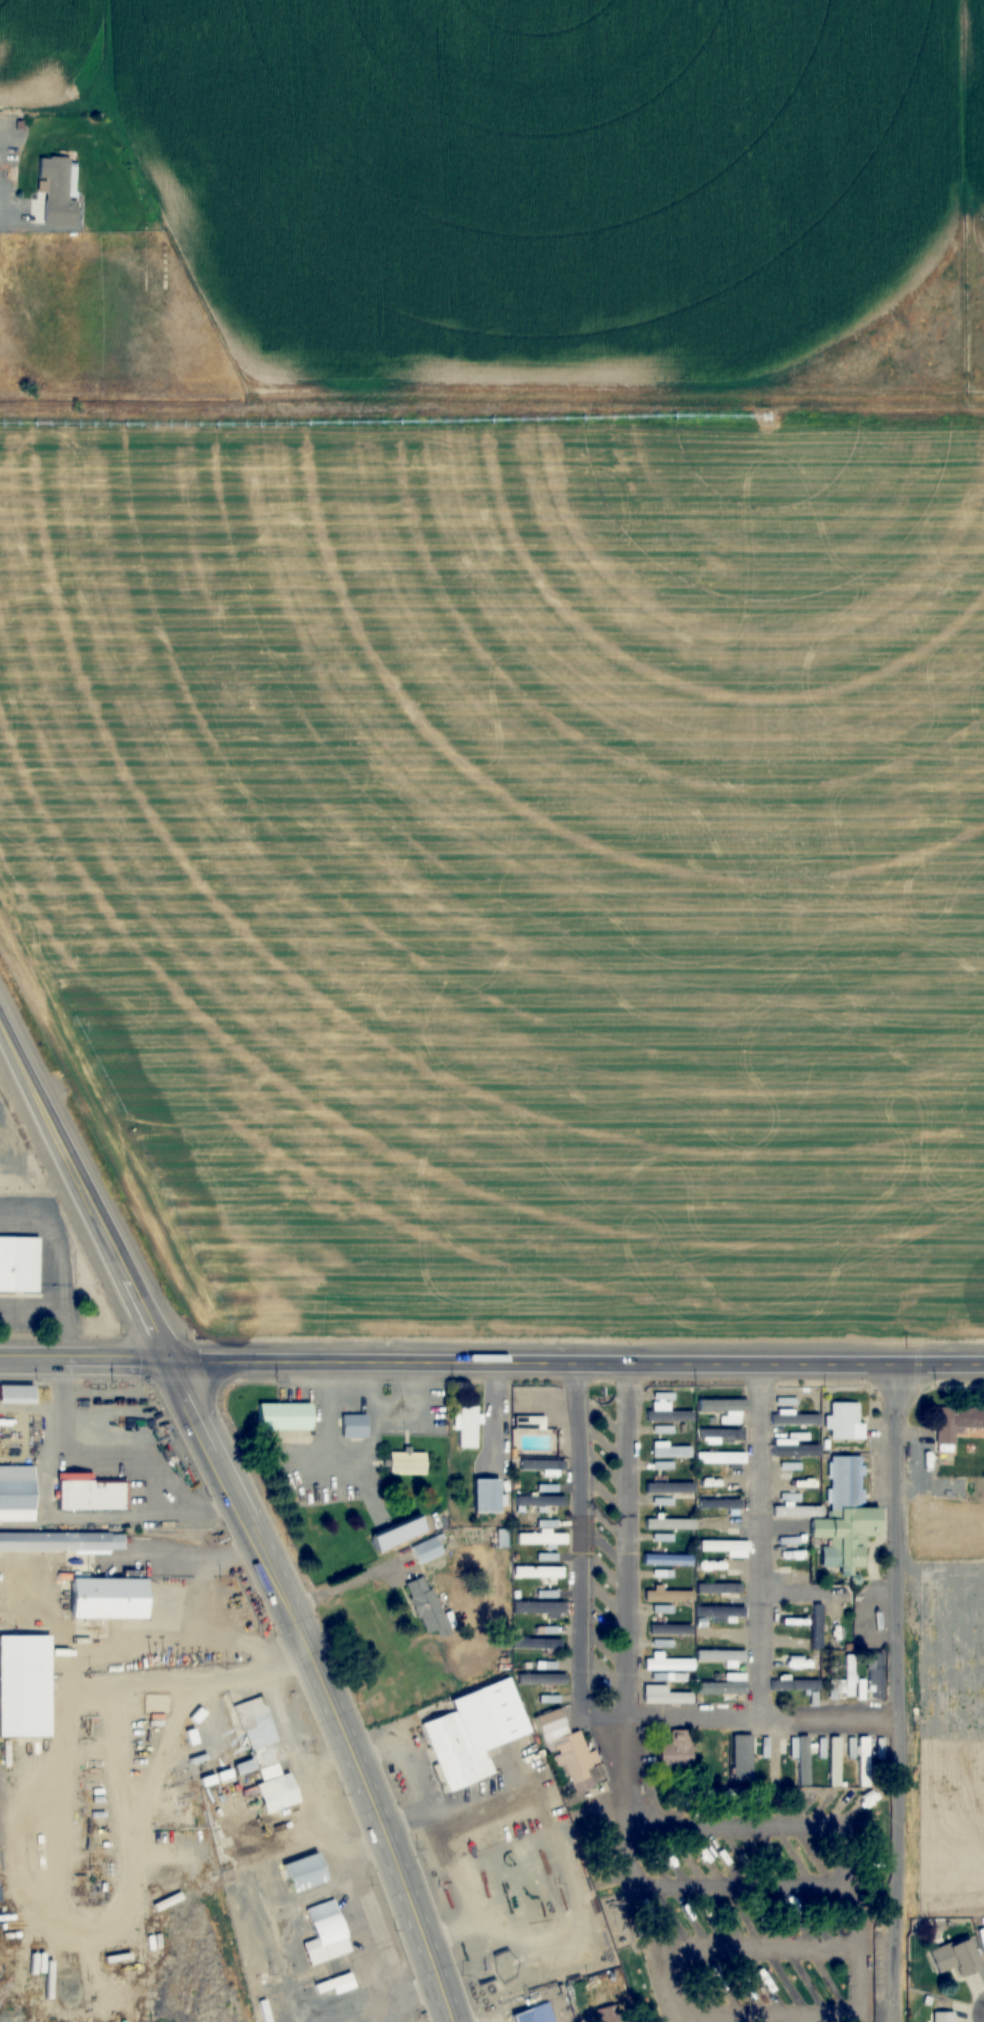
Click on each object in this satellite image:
building: (12, 123)
building: (58, 190)
road: (86, 1192)
building: (20, 1264)
road: (86, 1360)
road: (578, 1360)
building: (14, 1394)
building: (722, 1405)
building: (667, 1413)
building: (282, 1417)
building: (794, 1420)
building: (844, 1421)
building: (528, 1422)
building: (956, 1424)
building: (353, 1426)
building: (468, 1427)
building: (667, 1429)
building: (721, 1435)
building: (670, 1450)
building: (797, 1452)
building: (720, 1458)
building: (406, 1464)
building: (665, 1465)
building: (542, 1466)
building: (601, 1467)
building: (794, 1483)
building: (670, 1488)
building: (86, 1493)
building: (16, 1494)
building: (484, 1496)
building: (539, 1501)
building: (719, 1504)
building: (797, 1511)
road: (246, 1517)
building: (844, 1517)
building: (670, 1524)
building: (721, 1524)
building: (395, 1534)
building: (665, 1538)
building: (542, 1539)
road: (760, 1539)
building: (794, 1540)
building: (62, 1542)
building: (725, 1548)
building: (426, 1551)
building: (667, 1560)
building: (724, 1568)
building: (538, 1572)
building: (794, 1576)
building: (719, 1589)
building: (549, 1594)
building: (668, 1596)
building: (104, 1599)
building: (426, 1606)
building: (545, 1609)
building: (720, 1612)
building: (817, 1627)
building: (670, 1630)
building: (834, 1632)
building: (710, 1633)
building: (867, 1639)
building: (537, 1644)
building: (663, 1644)
building: (720, 1656)
building: (668, 1665)
building: (794, 1666)
building: (876, 1676)
building: (541, 1679)
building: (844, 1681)
building: (725, 1685)
building: (794, 1685)
building: (24, 1686)
road: (899, 1691)
building: (664, 1696)
road: (762, 1715)
building: (255, 1733)
building: (472, 1733)
building: (880, 1747)
building: (676, 1751)
building: (570, 1753)
building: (862, 1757)
building: (742, 1758)
building: (803, 1759)
road: (618, 1762)
building: (775, 1762)
building: (835, 1765)
building: (243, 1768)
building: (274, 1794)
road: (388, 1846)
building: (302, 1873)
building: (325, 1934)
building: (110, 1943)
building: (955, 1958)
building: (334, 1985)
building: (265, 2011)
building: (533, 2014)
building: (943, 2016)

